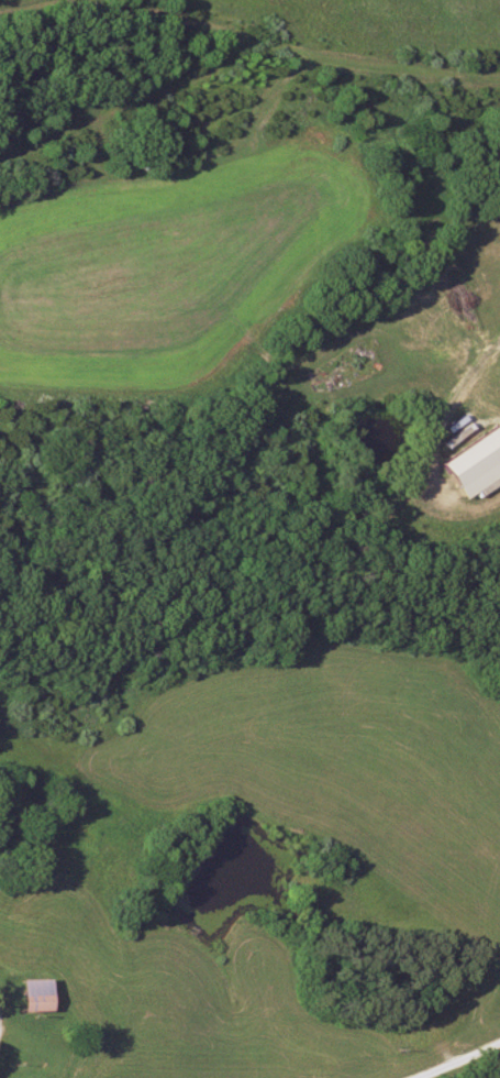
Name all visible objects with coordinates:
building: (468, 462)
building: (27, 996)
building: (445, 1001)

